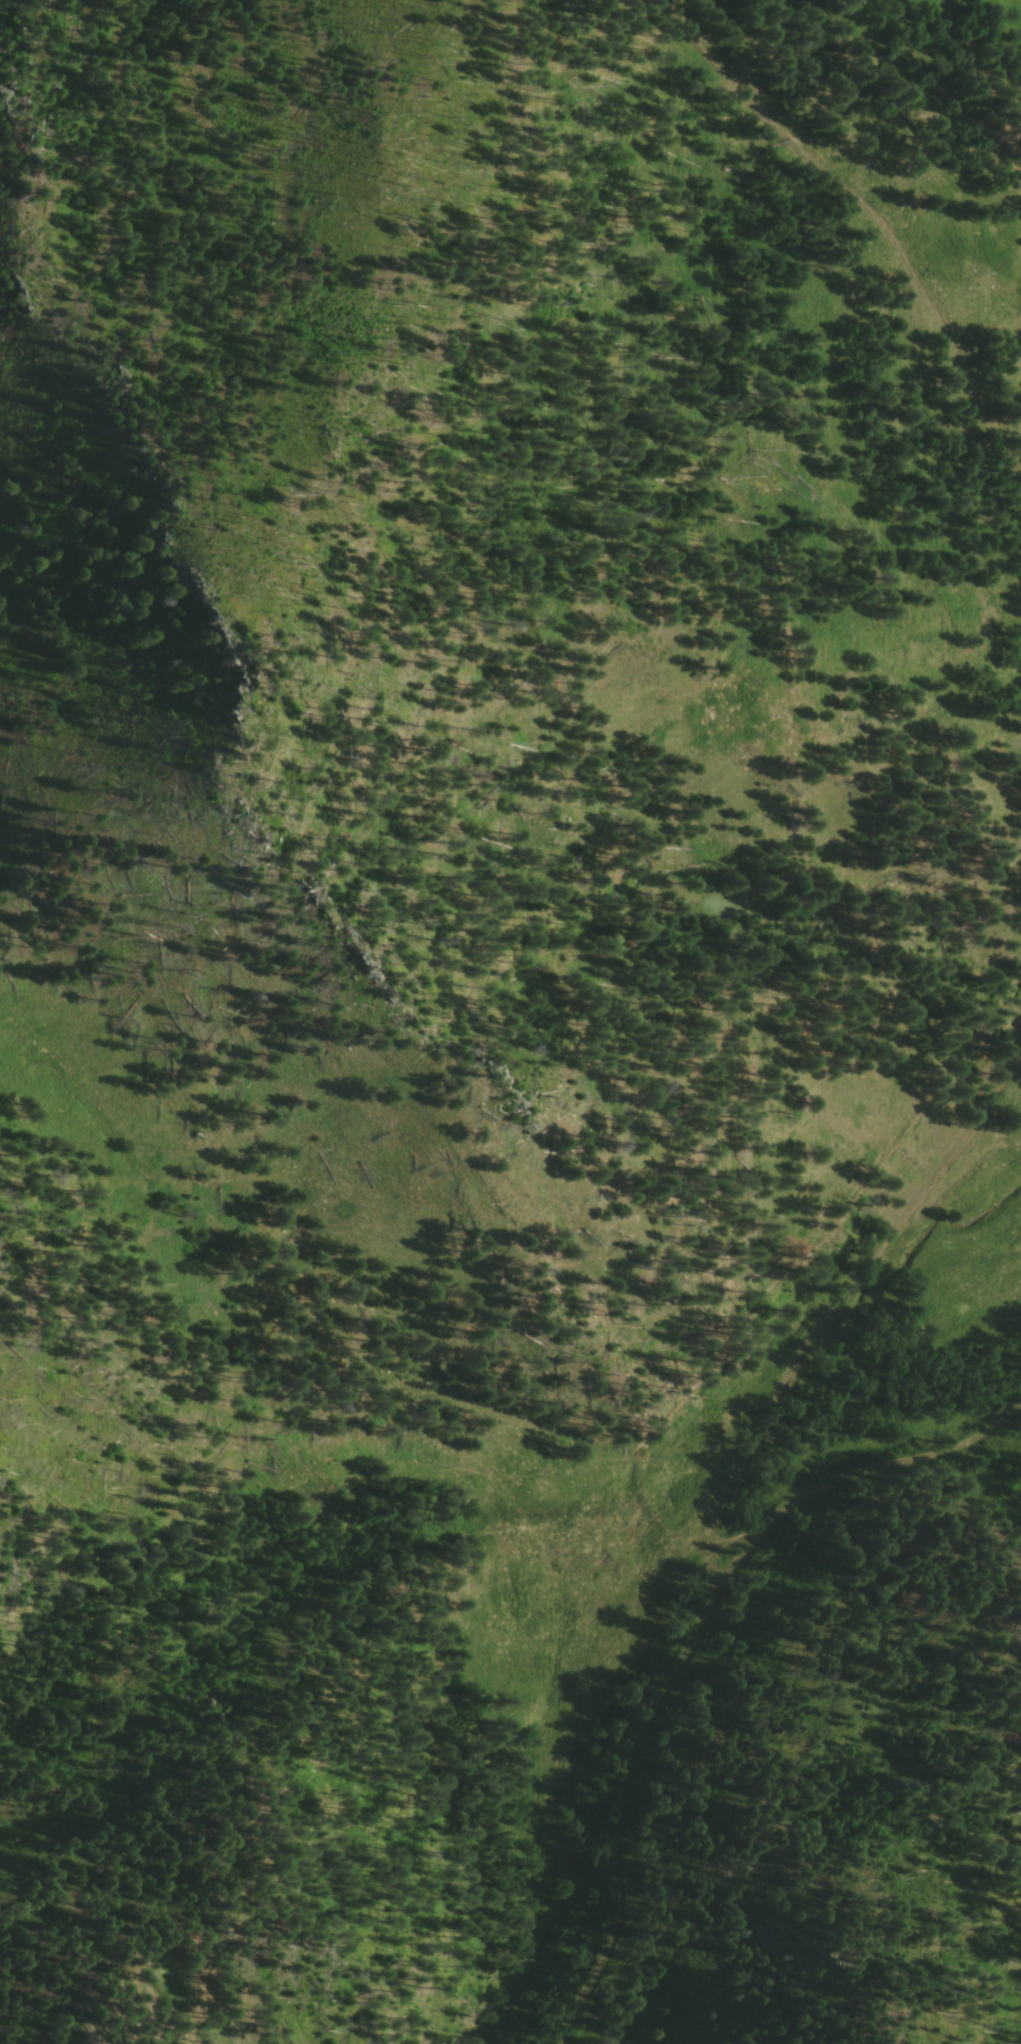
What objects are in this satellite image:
road: (816, 132)
road: (789, 153)
road: (971, 391)
road: (686, 1398)
road: (848, 1480)
road: (718, 1502)

